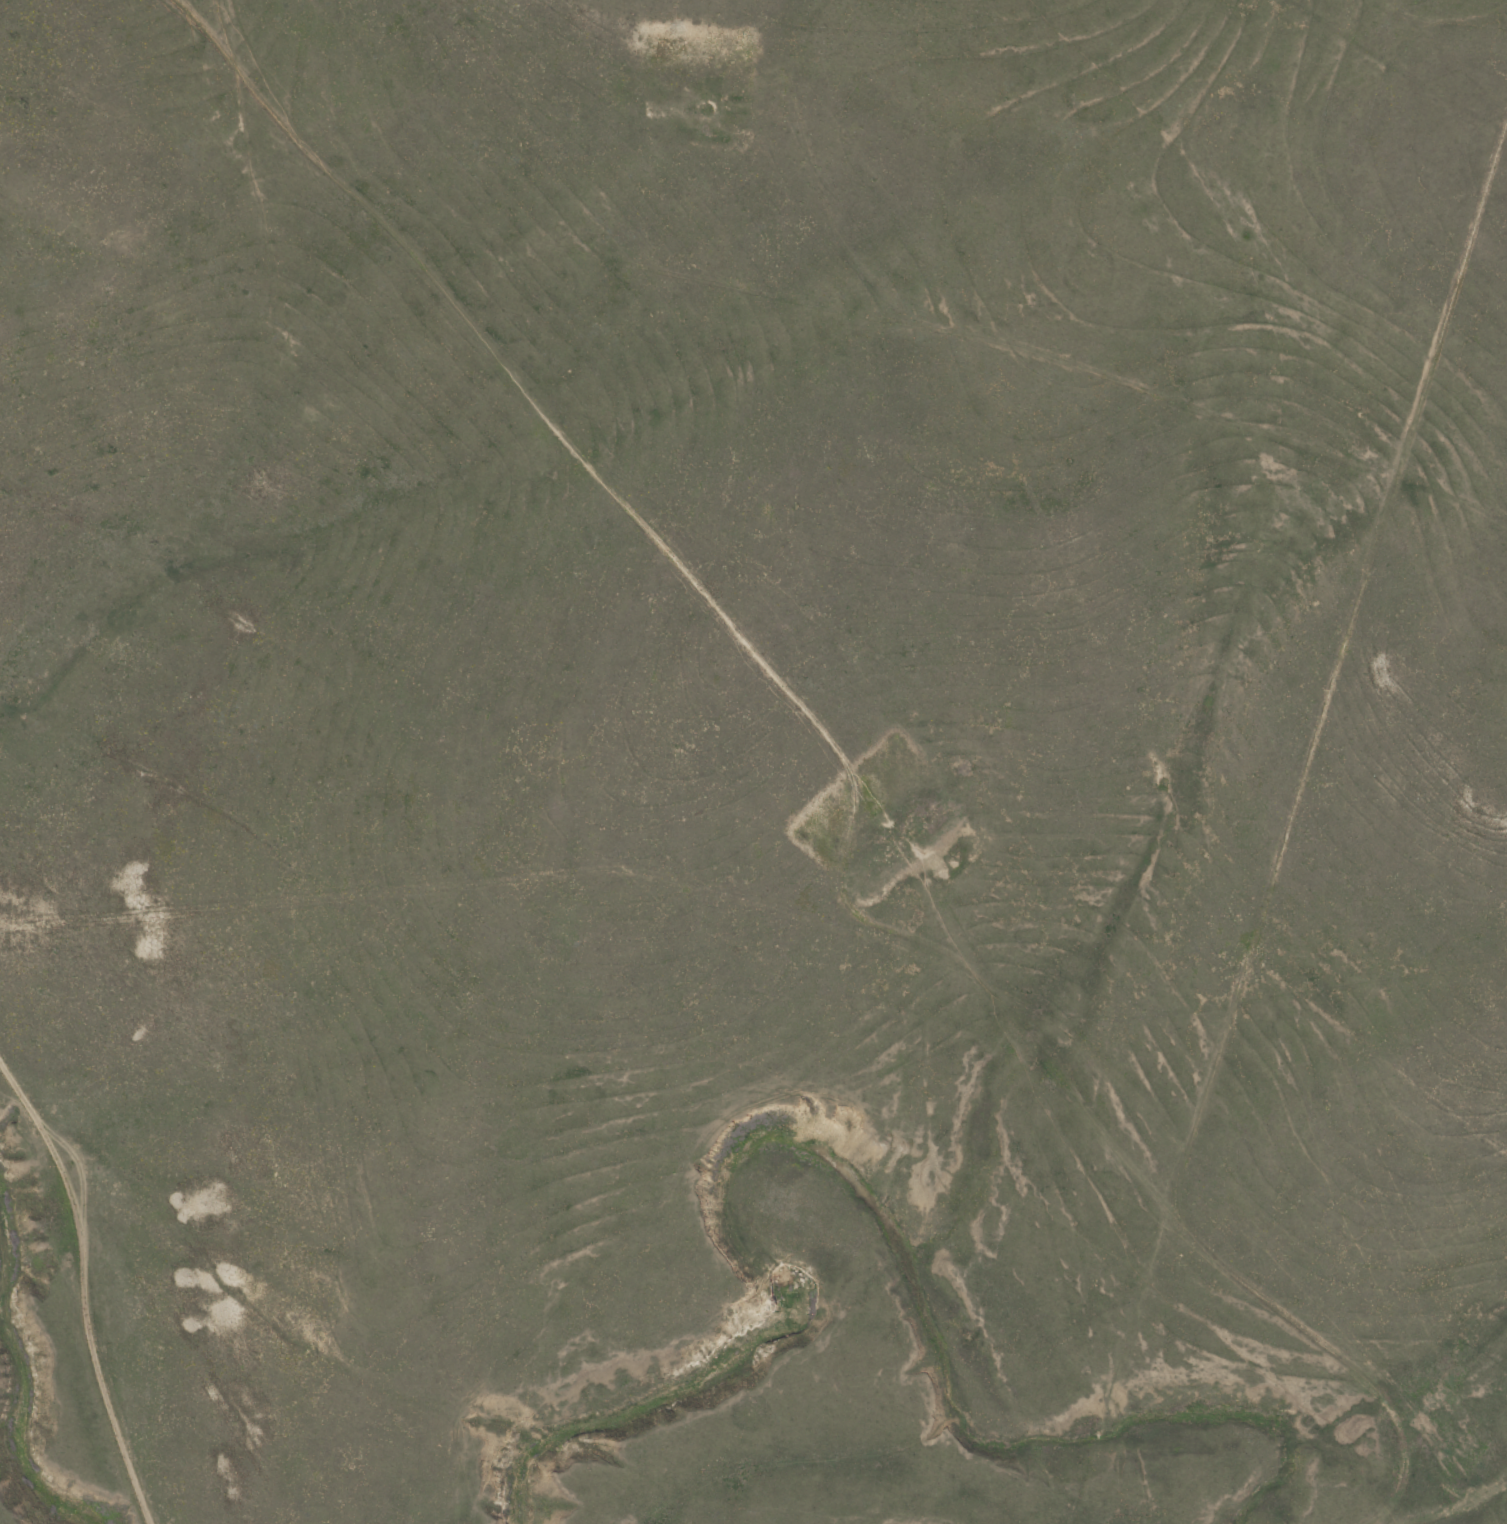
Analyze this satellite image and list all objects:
road: (88, 1255)
road: (1485, 1512)

